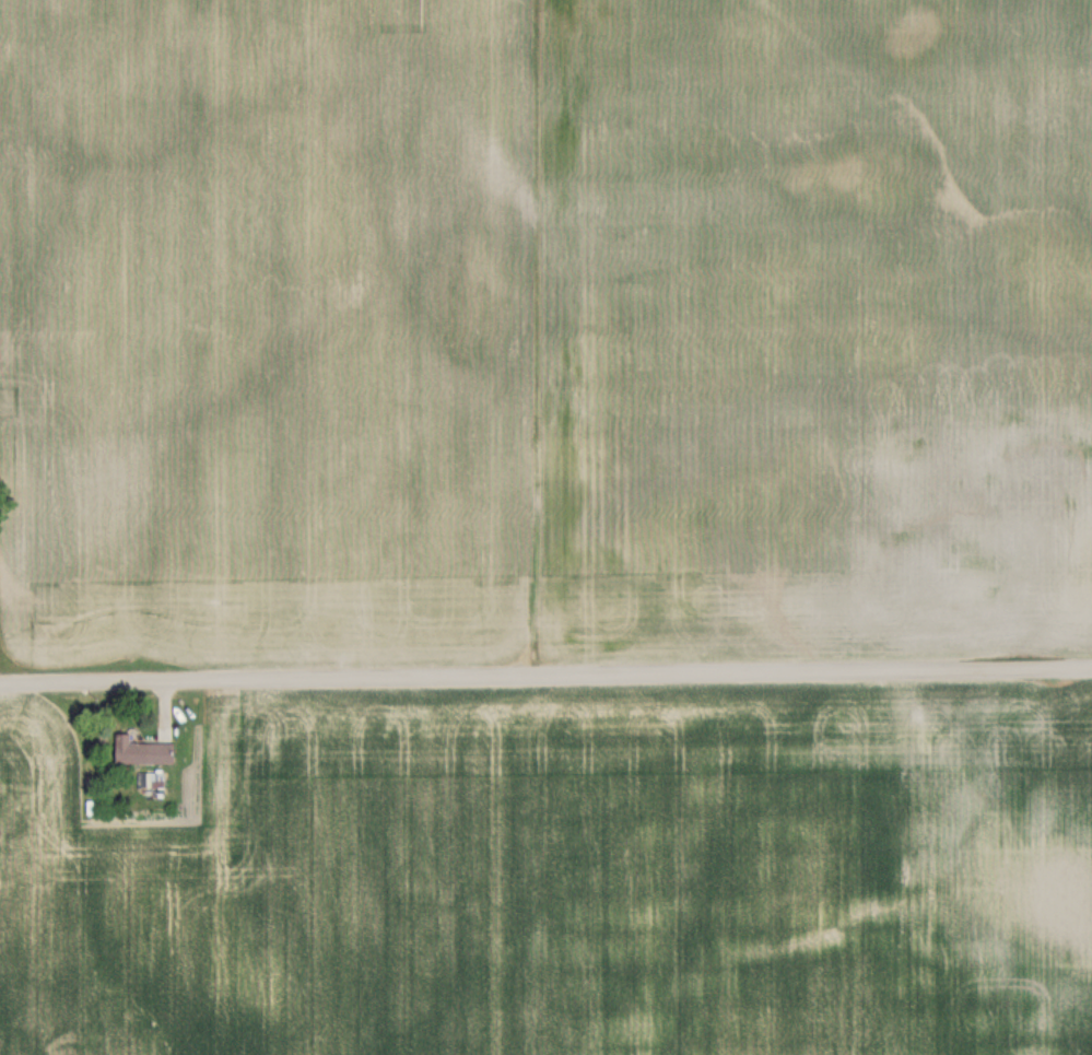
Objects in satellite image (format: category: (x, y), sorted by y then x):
road: (545, 675)
building: (140, 751)

